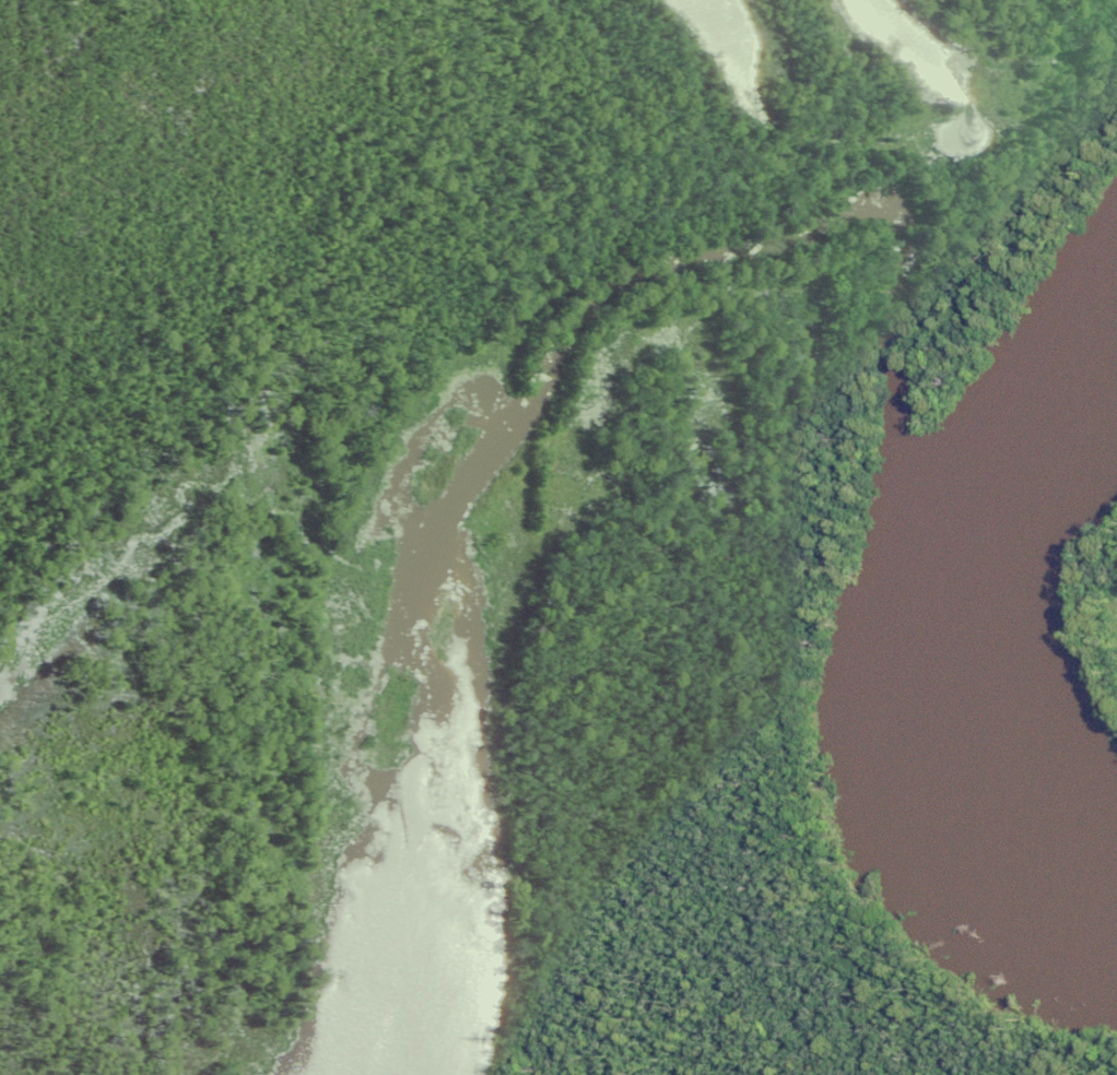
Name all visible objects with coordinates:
river: (993, 650)

